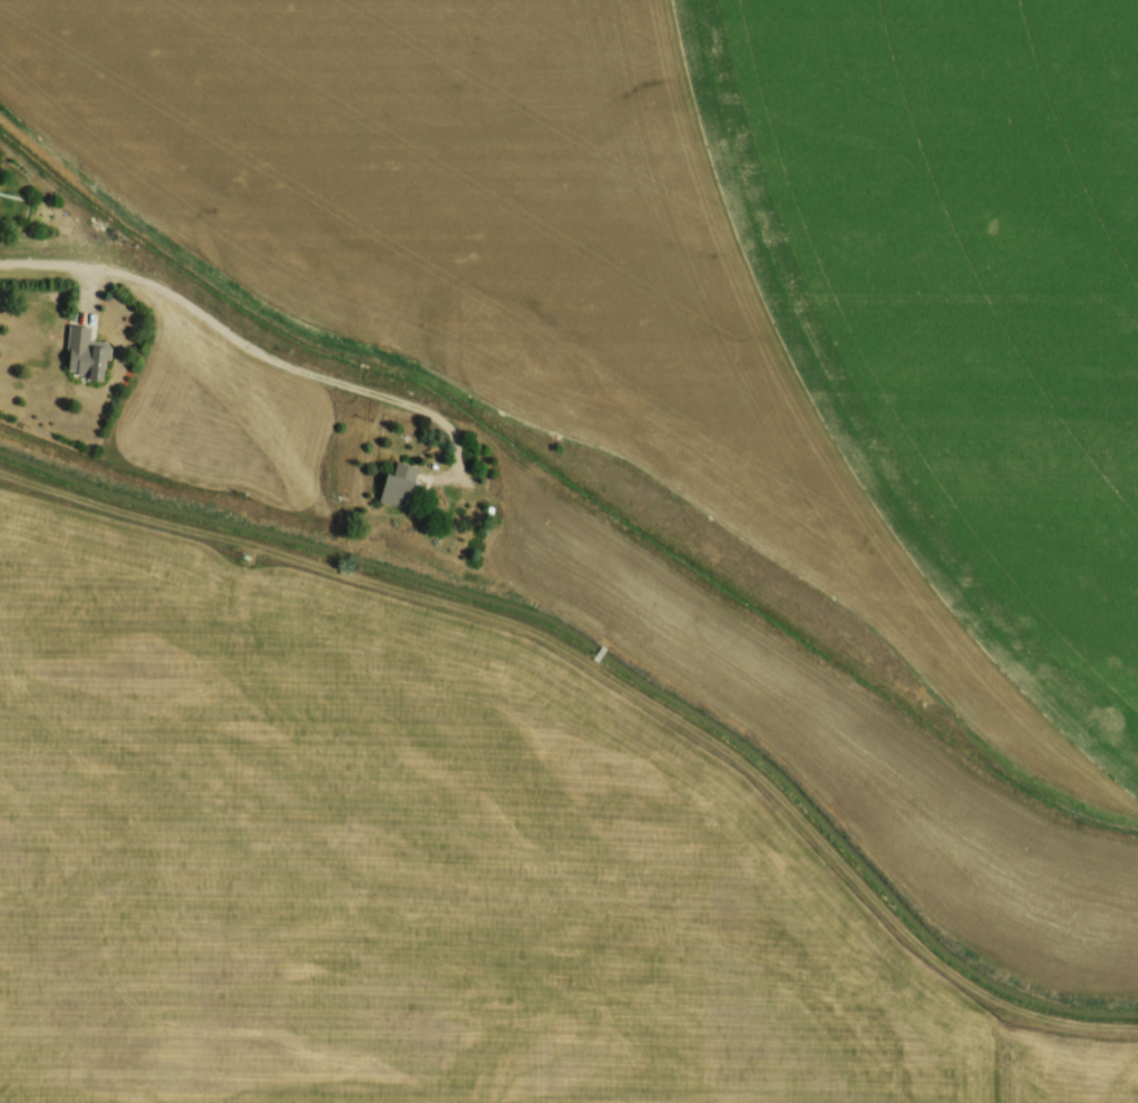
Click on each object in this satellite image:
road: (260, 345)
building: (80, 352)
building: (395, 485)

